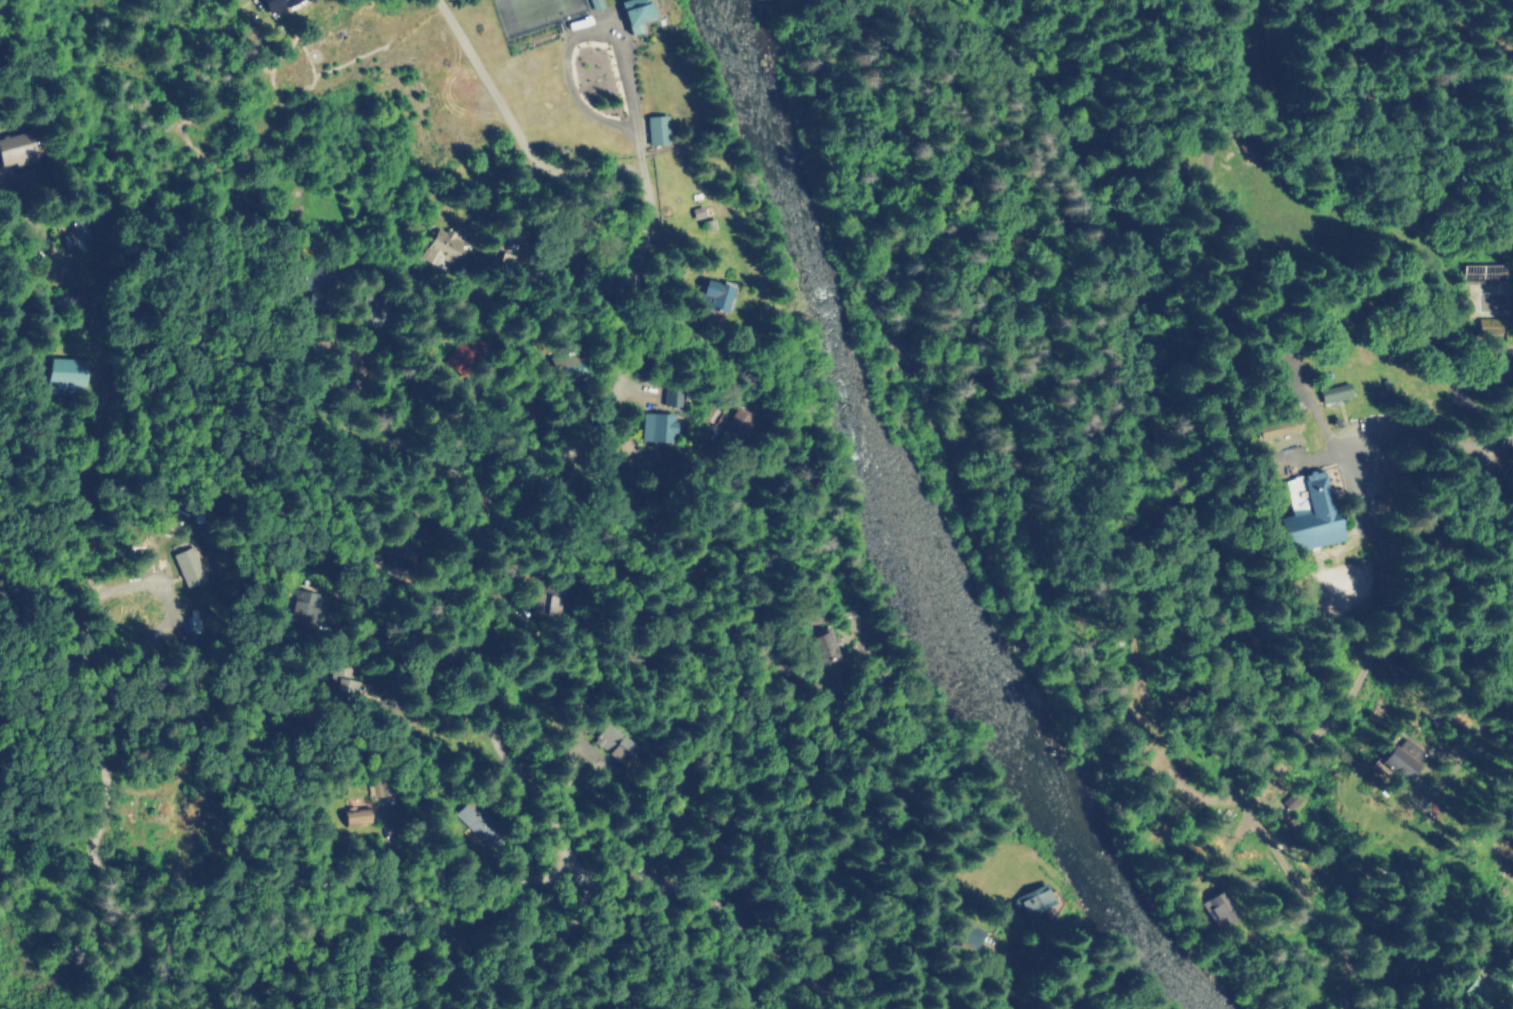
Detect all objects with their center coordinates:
building: (278, 4)
building: (638, 13)
road: (563, 52)
road: (516, 129)
building: (658, 130)
building: (18, 147)
building: (1245, 148)
building: (76, 235)
building: (444, 247)
road: (646, 256)
building: (1479, 263)
building: (322, 285)
building: (716, 295)
building: (380, 305)
building: (1482, 324)
road: (574, 346)
building: (470, 353)
building: (579, 367)
building: (71, 375)
building: (1504, 375)
building: (1326, 390)
building: (675, 396)
building: (732, 422)
building: (1275, 424)
building: (662, 427)
building: (1301, 511)
road: (525, 525)
river: (914, 528)
building: (402, 554)
building: (203, 566)
building: (555, 602)
building: (317, 607)
road: (561, 630)
building: (820, 648)
road: (1365, 674)
building: (353, 678)
road: (710, 729)
building: (617, 742)
building: (1398, 755)
road: (253, 771)
building: (368, 816)
building: (487, 825)
building: (1033, 899)
building: (1218, 907)
road: (916, 943)
building: (1461, 983)
building: (1125, 1008)

